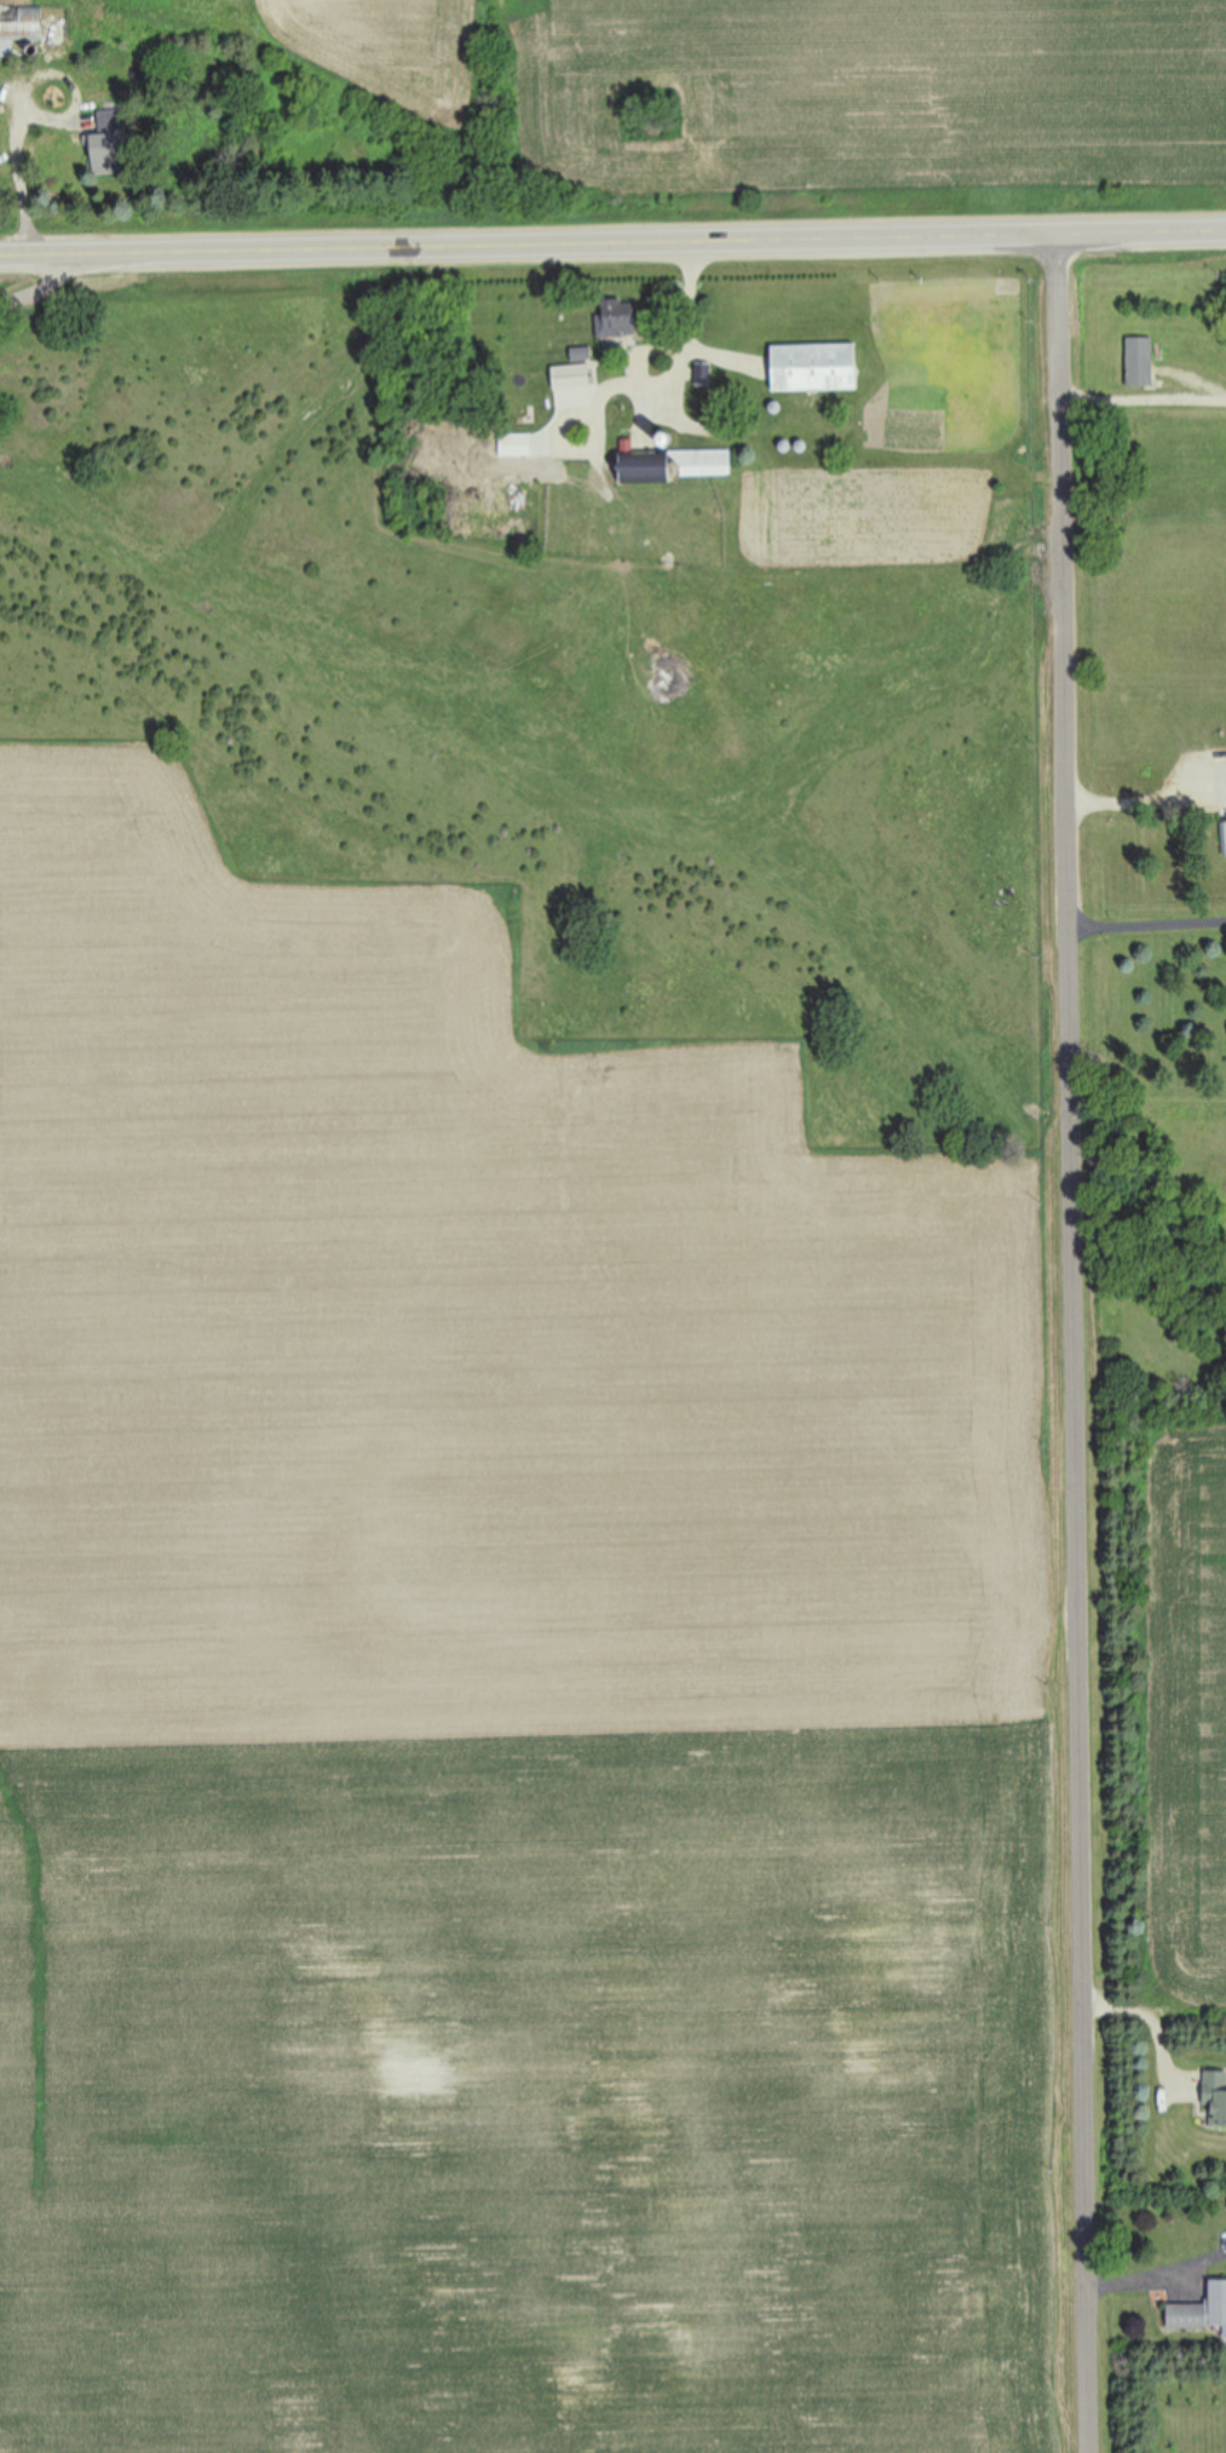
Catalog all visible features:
building: (22, 22)
road: (23, 98)
building: (111, 143)
road: (612, 246)
road: (39, 289)
building: (617, 326)
building: (1140, 363)
building: (815, 368)
building: (571, 377)
road: (1144, 397)
building: (516, 446)
building: (706, 465)
building: (1224, 838)
road: (1149, 910)
road: (1077, 1344)
crop: (528, 1419)
crop: (1158, 1710)
building: (1215, 2097)
building: (1202, 2313)

